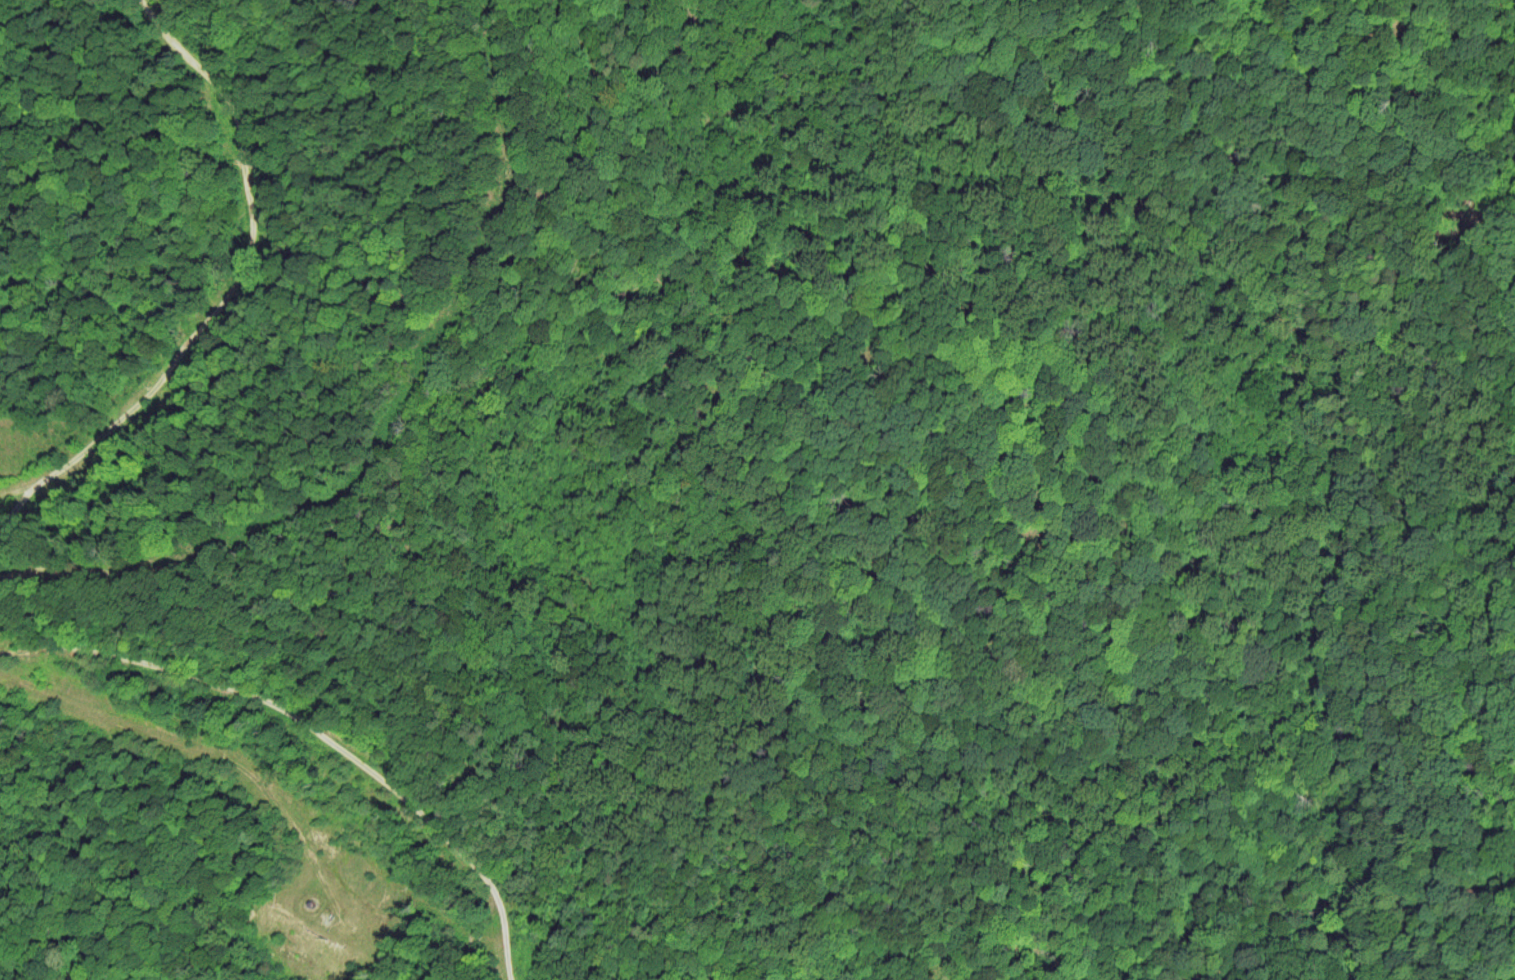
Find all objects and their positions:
road: (275, 735)

